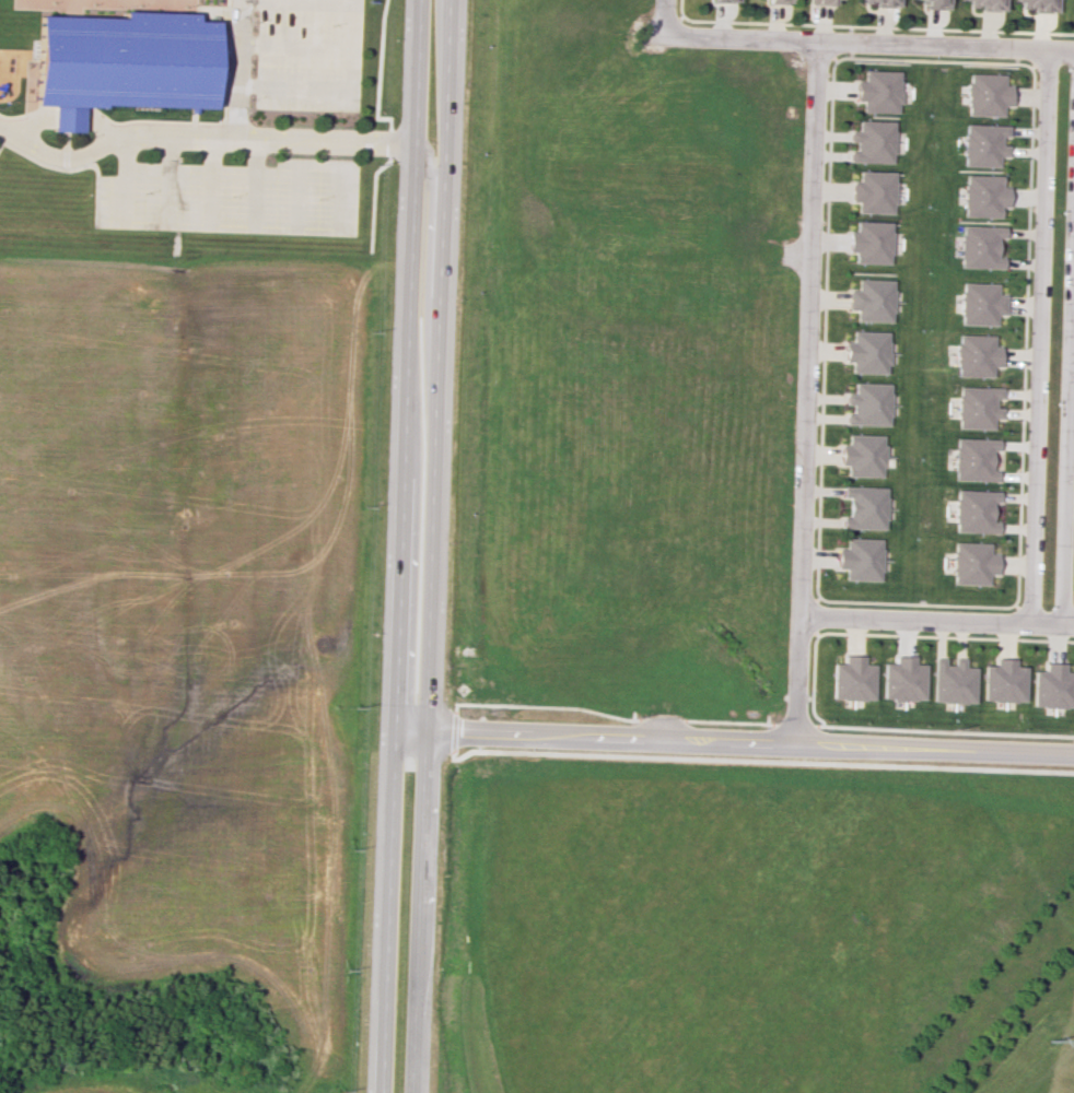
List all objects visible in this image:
road: (325, 0)
building: (724, 0)
building: (777, 1)
building: (821, 2)
building: (882, 2)
building: (934, 3)
building: (984, 4)
building: (1037, 4)
road: (664, 16)
road: (868, 40)
road: (297, 44)
parking lot: (308, 54)
building: (125, 60)
road: (233, 66)
road: (244, 66)
road: (341, 89)
building: (878, 90)
building: (984, 94)
road: (61, 114)
road: (270, 132)
building: (874, 140)
building: (981, 143)
road: (271, 146)
road: (62, 157)
road: (322, 165)
road: (124, 179)
road: (168, 181)
road: (211, 183)
road: (255, 184)
building: (873, 191)
road: (296, 193)
building: (980, 195)
road: (345, 196)
parking lot: (233, 197)
road: (297, 224)
building: (871, 243)
building: (978, 246)
building: (872, 301)
building: (978, 303)
road: (1037, 334)
building: (865, 352)
building: (972, 356)
road: (804, 393)
road: (1066, 400)
building: (867, 403)
building: (973, 408)
building: (861, 455)
building: (971, 460)
building: (864, 507)
building: (971, 510)
road: (401, 546)
road: (428, 546)
building: (860, 557)
building: (968, 563)
crop: (184, 608)
road: (934, 619)
building: (851, 681)
building: (900, 681)
building: (1001, 682)
building: (950, 683)
building: (1050, 686)
road: (734, 745)
power tower: (1048, 1037)
crop: (122, 1084)

